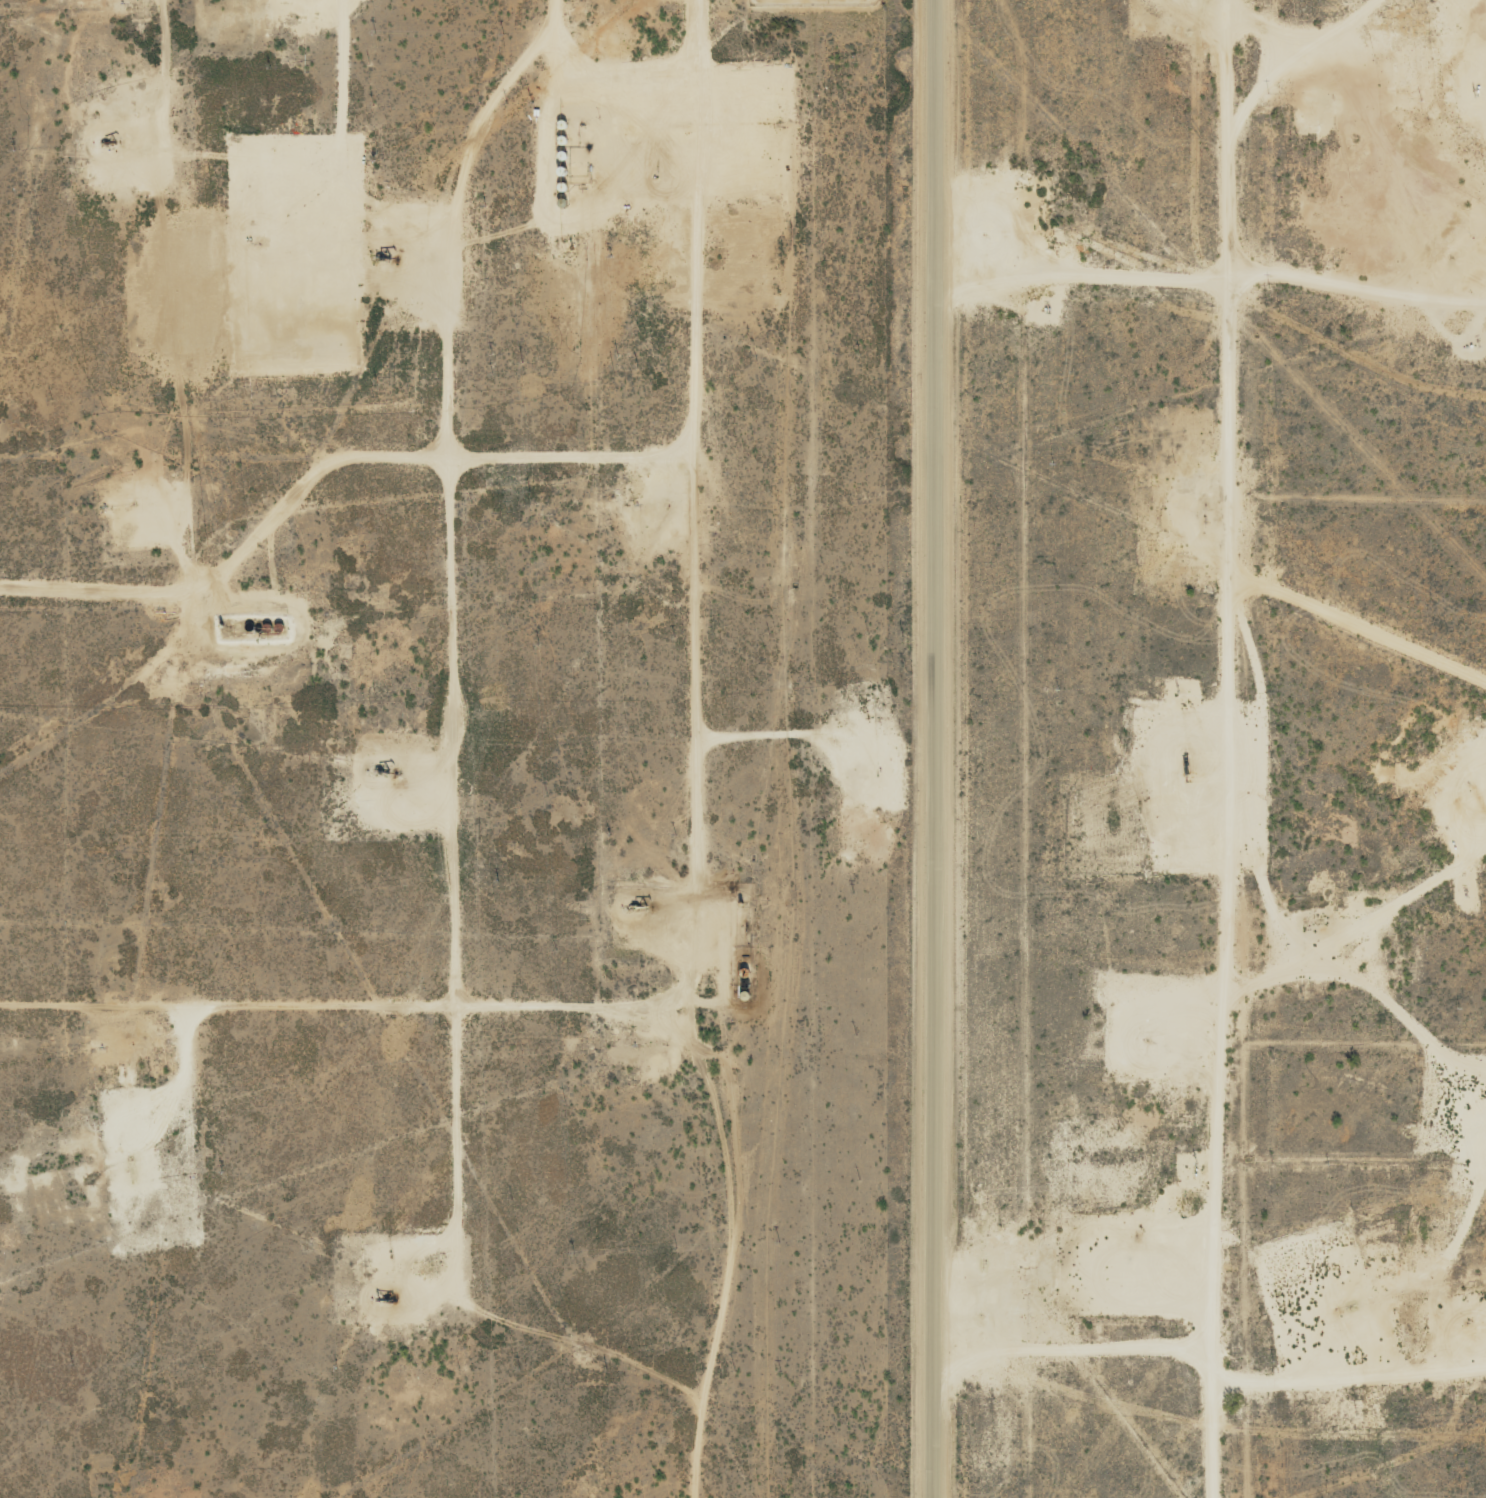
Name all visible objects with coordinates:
road: (1363, 250)
road: (335, 473)
road: (935, 749)
road: (1231, 749)
road: (694, 750)
road: (346, 985)

